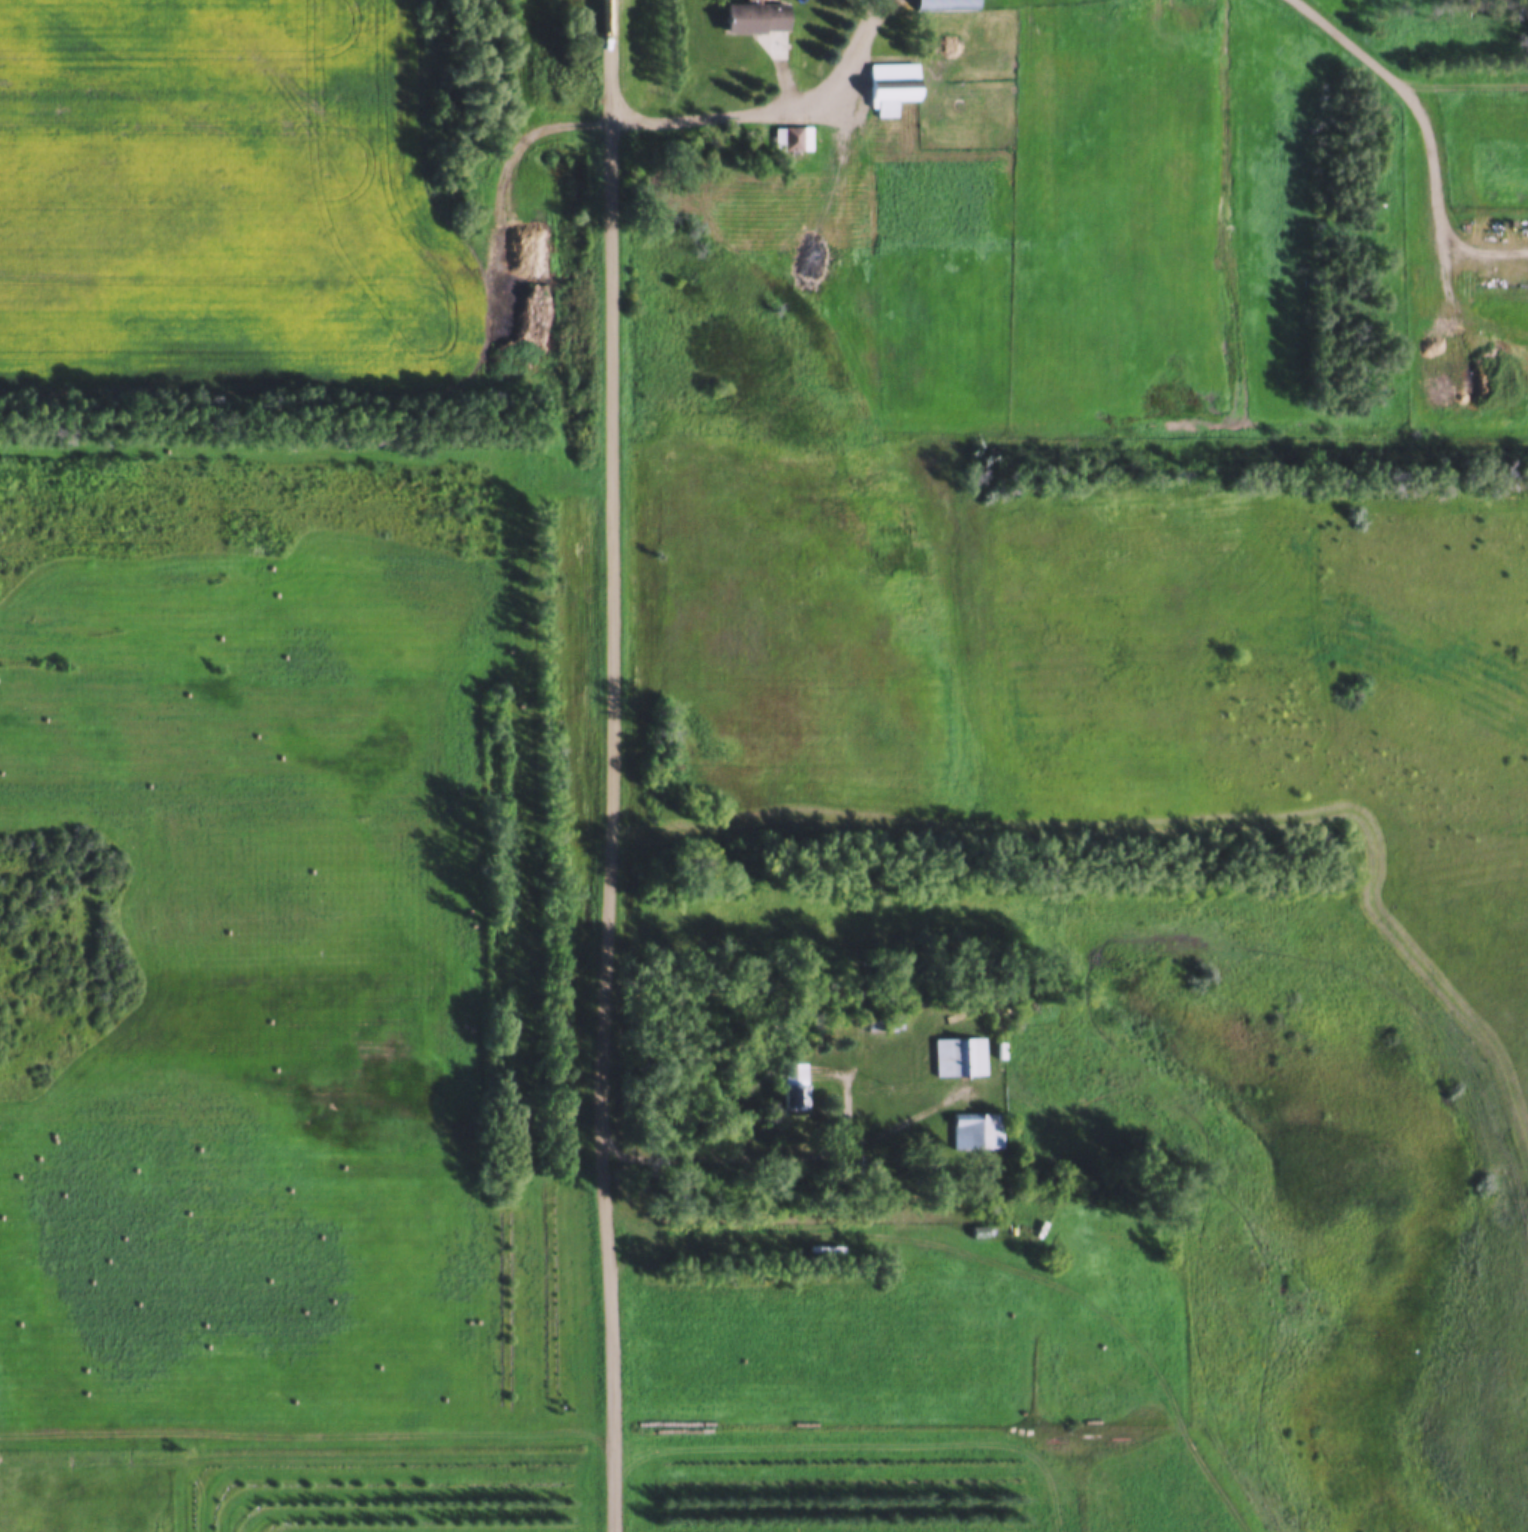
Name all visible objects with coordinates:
building: (946, 2)
building: (755, 13)
building: (893, 80)
building: (1180, 93)
road: (769, 107)
building: (792, 134)
building: (1418, 271)
road: (608, 766)
building: (911, 961)
building: (884, 1015)
building: (960, 1051)
building: (794, 1079)
building: (977, 1125)
road: (797, 1152)
building: (978, 1226)
road: (994, 1251)
road: (592, 1432)

